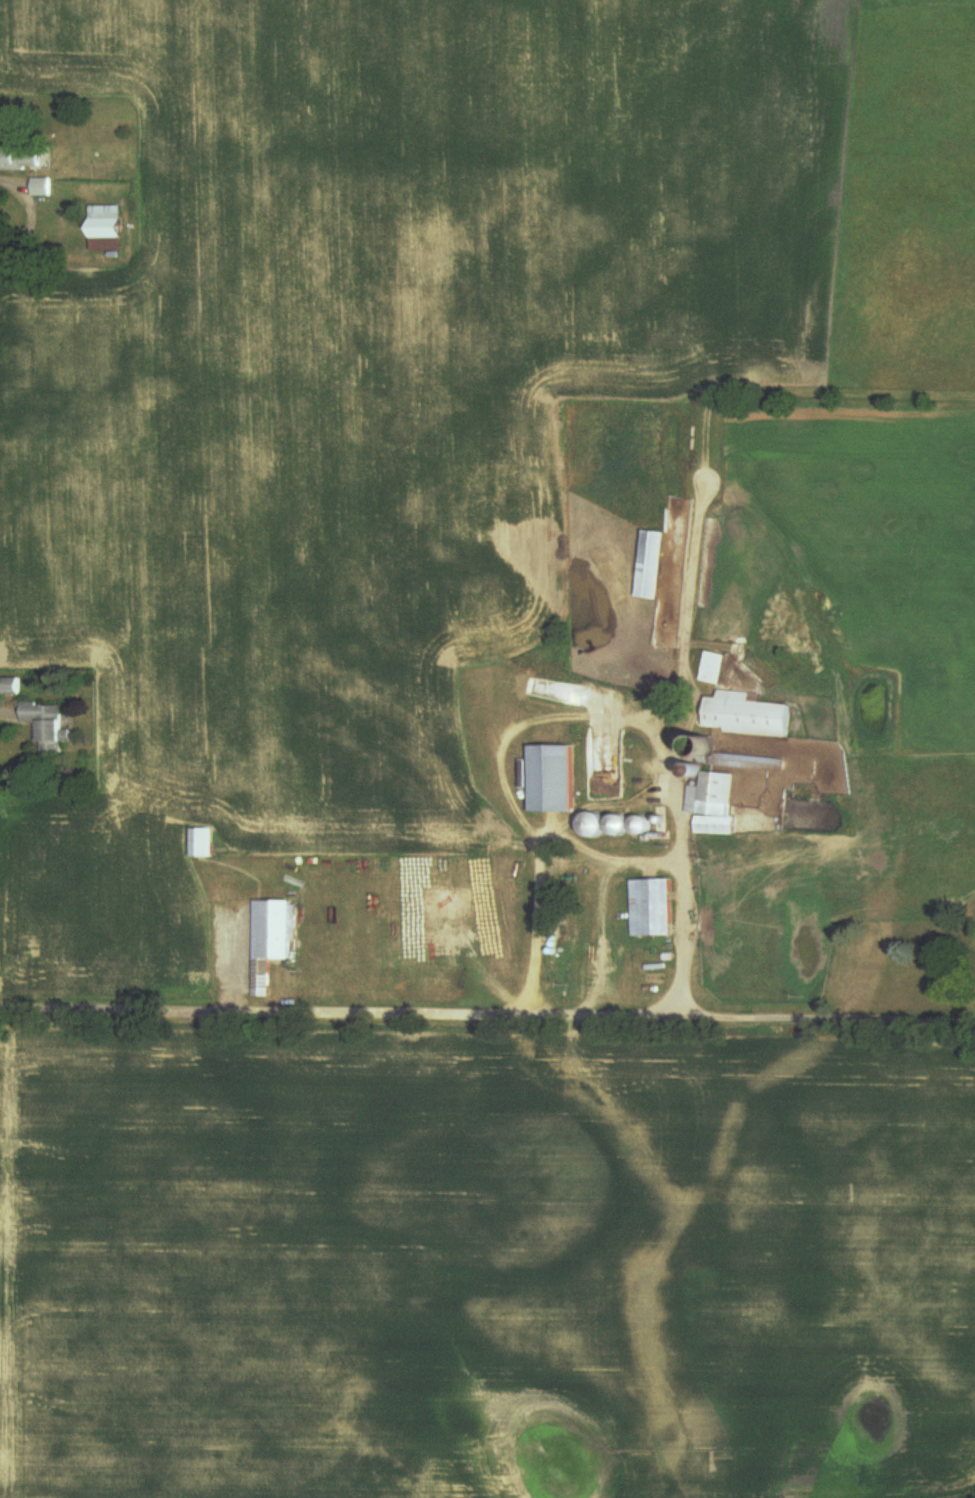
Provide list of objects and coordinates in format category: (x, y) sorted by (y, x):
building: (25, 159)
building: (44, 188)
road: (29, 213)
building: (110, 229)
building: (655, 565)
building: (717, 668)
building: (13, 687)
building: (750, 716)
building: (49, 727)
building: (555, 780)
building: (716, 804)
building: (598, 825)
building: (623, 826)
building: (202, 844)
road: (597, 851)
building: (652, 909)
road: (601, 940)
building: (271, 942)
road: (479, 1020)

